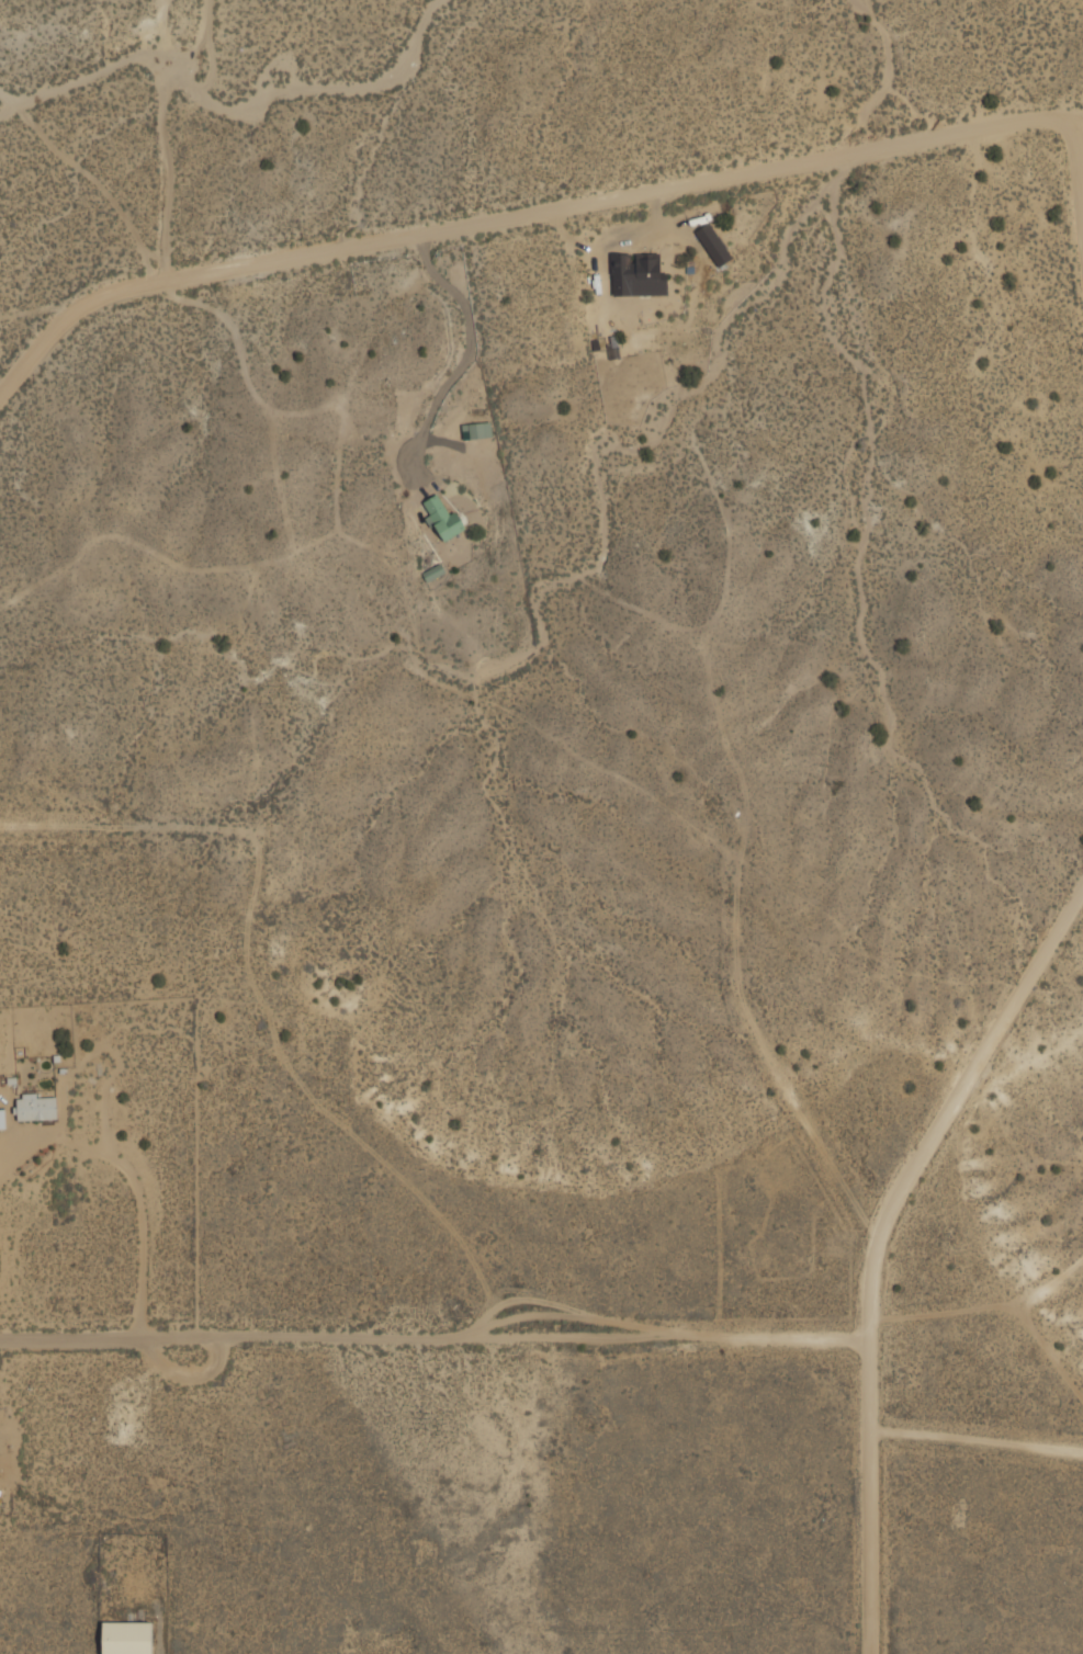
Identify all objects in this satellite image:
road: (1075, 118)
road: (1075, 174)
road: (511, 216)
building: (714, 243)
building: (636, 272)
building: (480, 429)
building: (442, 516)
building: (433, 570)
road: (131, 829)
road: (775, 1077)
building: (36, 1107)
building: (2, 1113)
road: (875, 1240)
road: (432, 1338)
road: (974, 1439)
building: (127, 1636)

